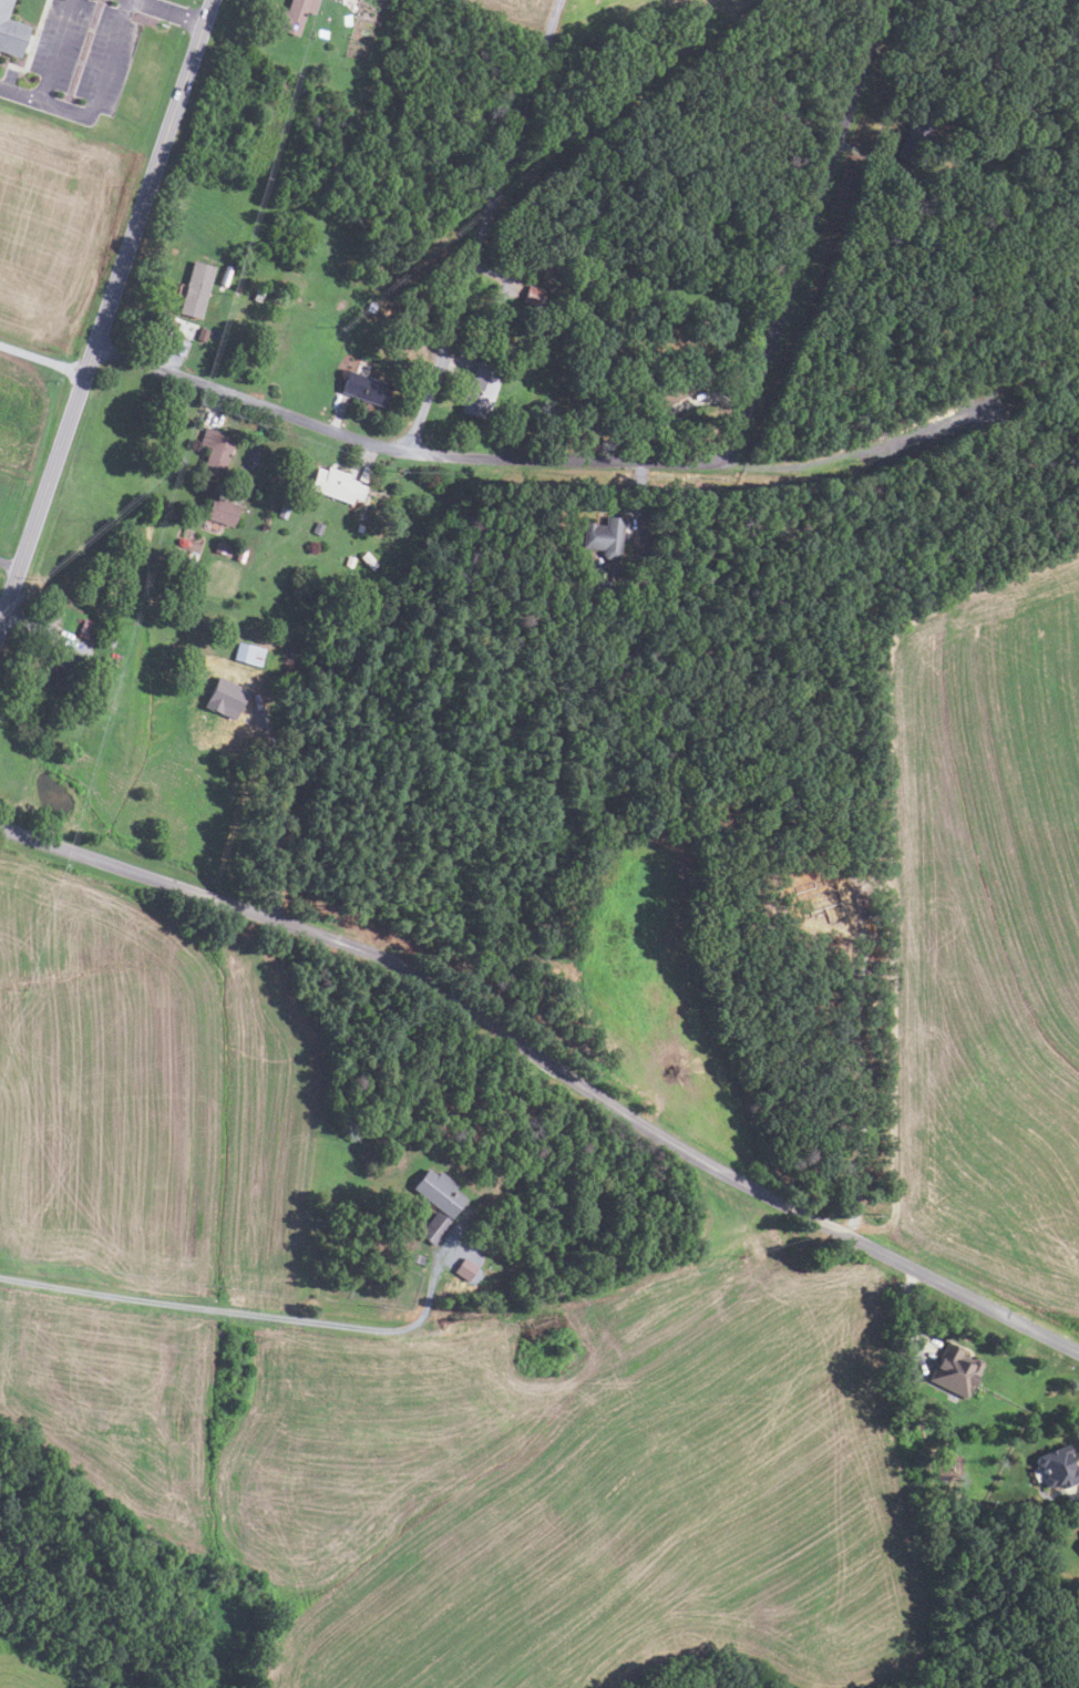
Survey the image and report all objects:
road: (173, 12)
building: (295, 16)
building: (10, 32)
road: (19, 96)
road: (71, 114)
building: (915, 137)
road: (867, 156)
road: (481, 225)
building: (225, 275)
building: (196, 289)
building: (258, 295)
building: (533, 296)
building: (371, 307)
road: (106, 308)
building: (179, 347)
road: (162, 354)
road: (42, 360)
road: (452, 364)
building: (615, 384)
building: (366, 388)
building: (670, 390)
building: (479, 391)
road: (681, 404)
road: (218, 406)
crop: (23, 410)
road: (337, 414)
road: (251, 447)
building: (216, 452)
road: (366, 455)
road: (645, 460)
building: (336, 484)
road: (639, 494)
building: (222, 511)
building: (317, 527)
building: (359, 528)
building: (603, 536)
building: (223, 548)
building: (240, 554)
building: (349, 560)
building: (369, 560)
road: (8, 566)
road: (29, 627)
building: (93, 627)
building: (248, 653)
building: (65, 671)
building: (223, 698)
building: (815, 899)
crop: (986, 927)
crop: (659, 997)
road: (675, 1062)
road: (548, 1066)
road: (872, 1087)
crop: (151, 1095)
building: (439, 1192)
building: (434, 1227)
building: (399, 1234)
building: (415, 1257)
road: (242, 1311)
building: (955, 1369)
building: (1059, 1465)
crop: (515, 1472)

